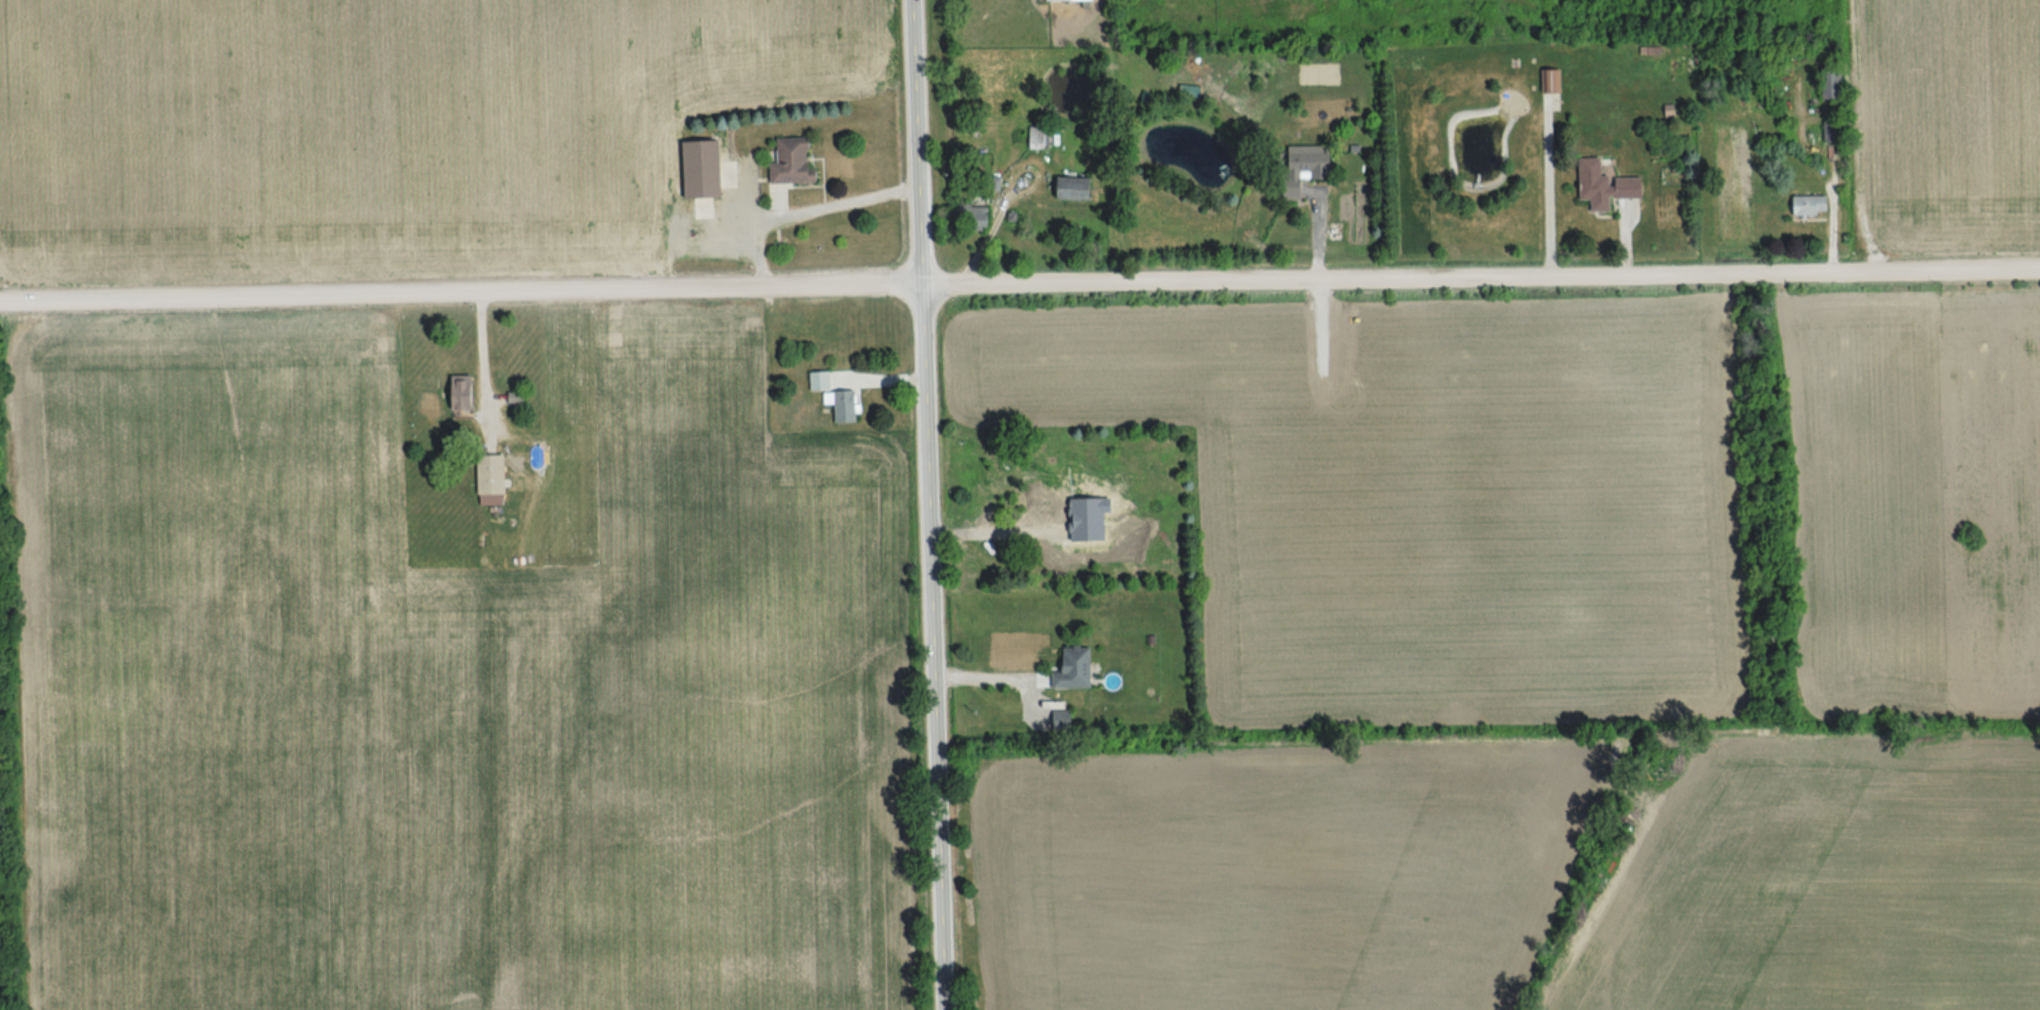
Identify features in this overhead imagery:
building: (1072, 0)
building: (1824, 84)
crop: (1949, 125)
crop: (381, 129)
building: (1040, 137)
building: (1317, 161)
building: (797, 165)
building: (707, 168)
building: (1610, 185)
building: (1080, 187)
building: (1804, 207)
road: (1320, 235)
road: (1019, 283)
road: (480, 357)
building: (853, 389)
building: (466, 392)
building: (495, 479)
road: (934, 504)
road: (998, 527)
road: (986, 680)
crop: (450, 688)
crop: (1267, 874)
crop: (1823, 880)

